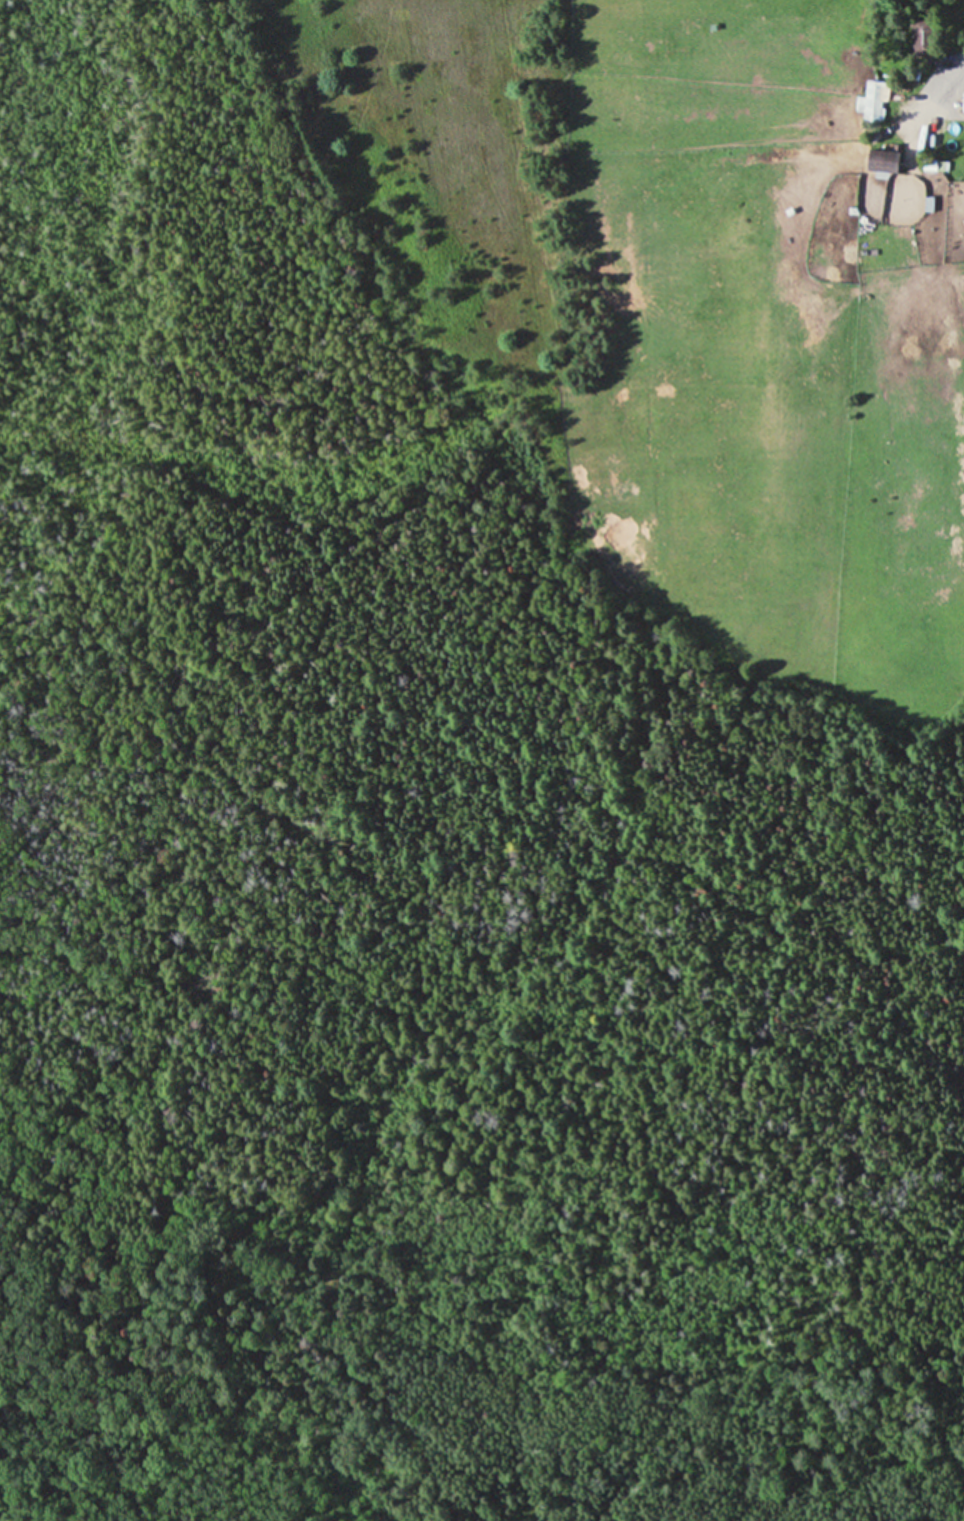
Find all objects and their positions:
building: (918, 35)
road: (933, 81)
building: (868, 101)
building: (878, 163)

